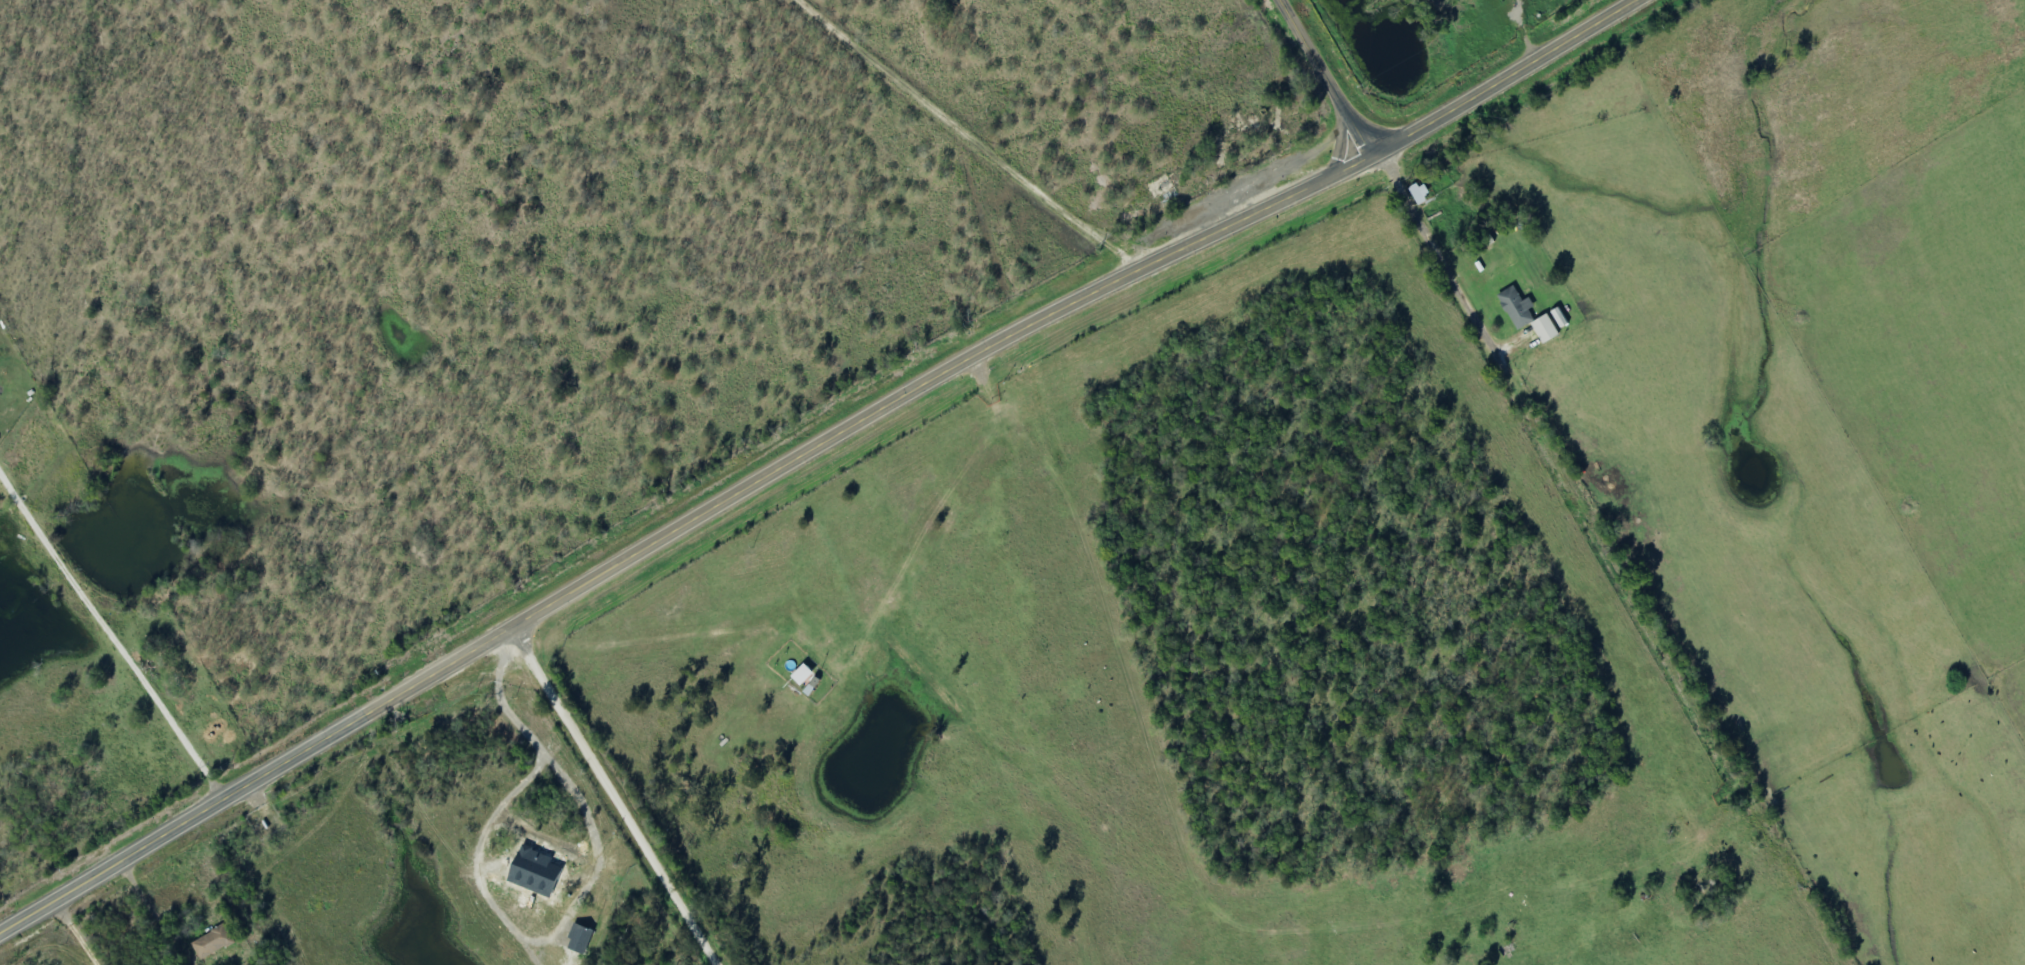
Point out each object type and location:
road: (1324, 76)
road: (1506, 84)
road: (951, 136)
building: (1424, 194)
building: (1522, 309)
building: (1555, 327)
road: (829, 446)
road: (1597, 561)
road: (625, 797)
road: (151, 838)
building: (584, 940)
building: (216, 944)

